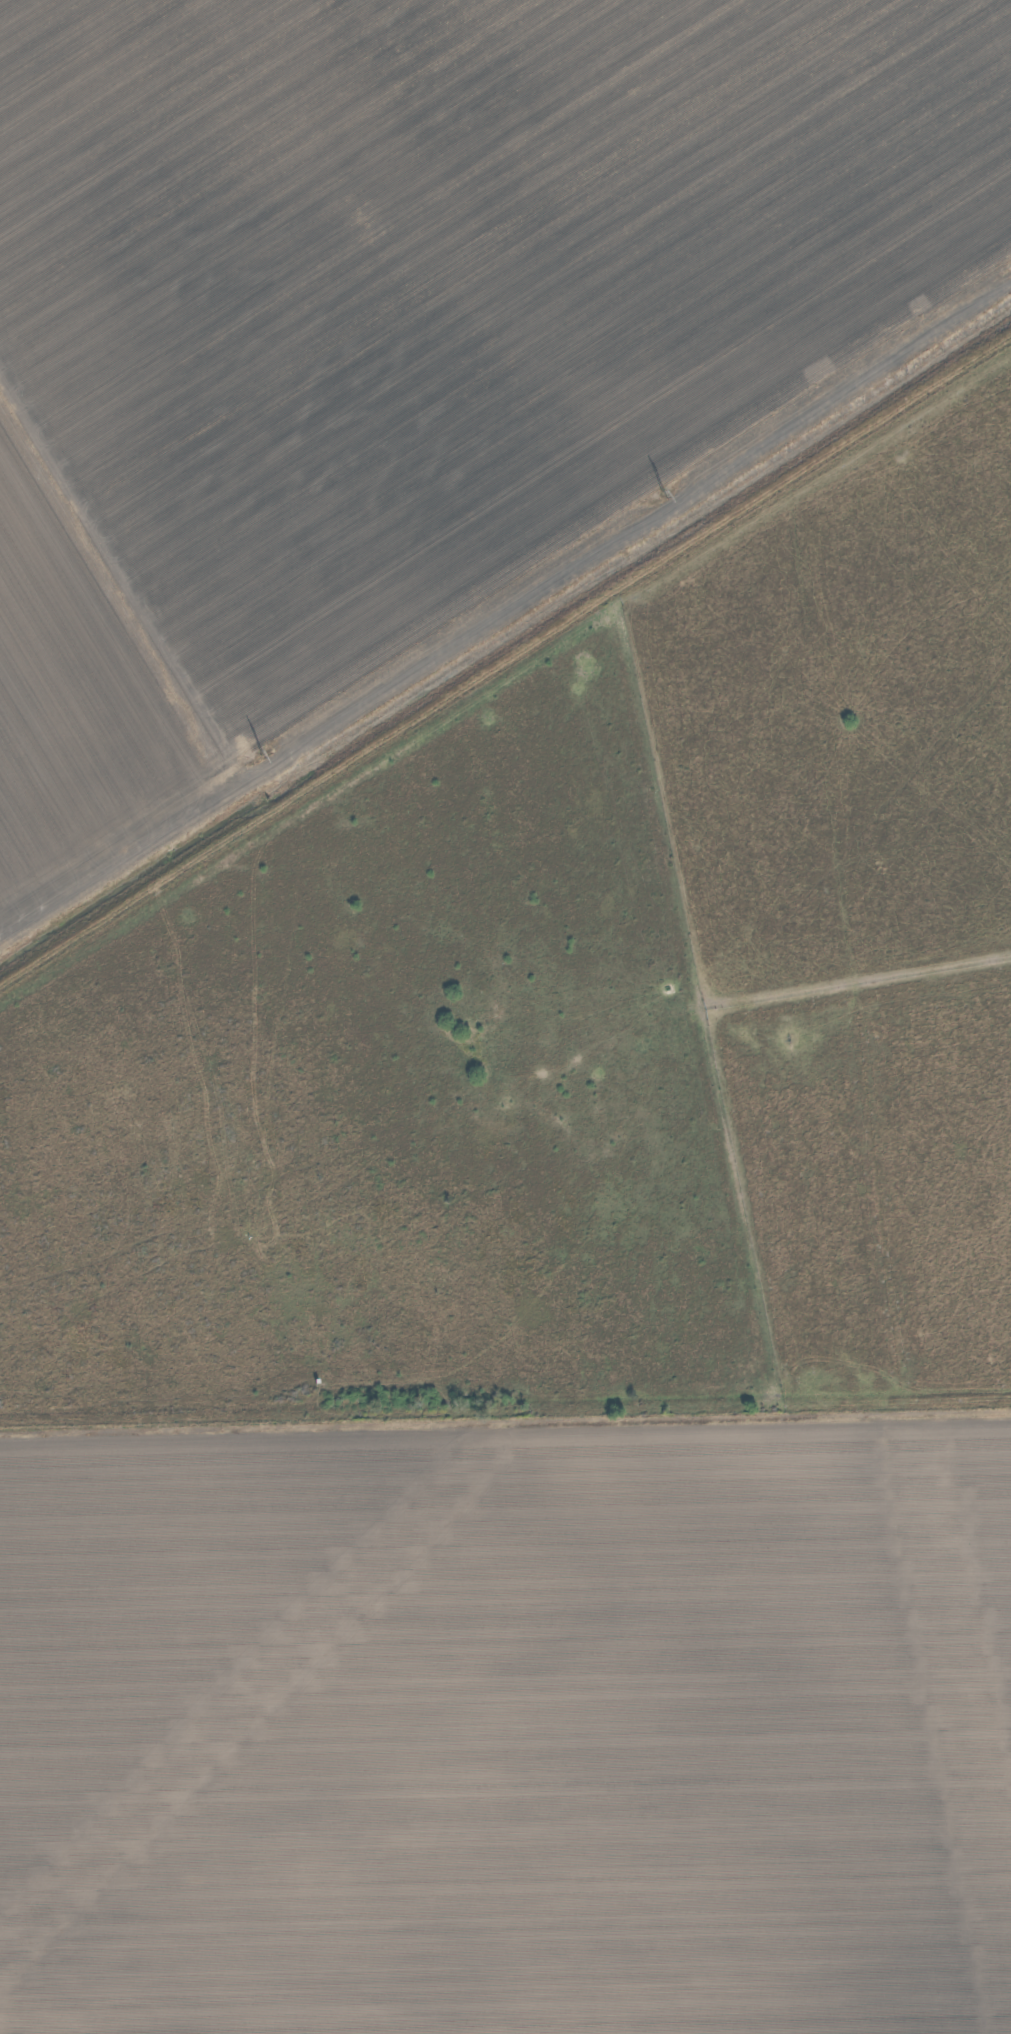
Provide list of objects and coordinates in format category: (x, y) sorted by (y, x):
power tower: (668, 495)
power tower: (265, 755)

